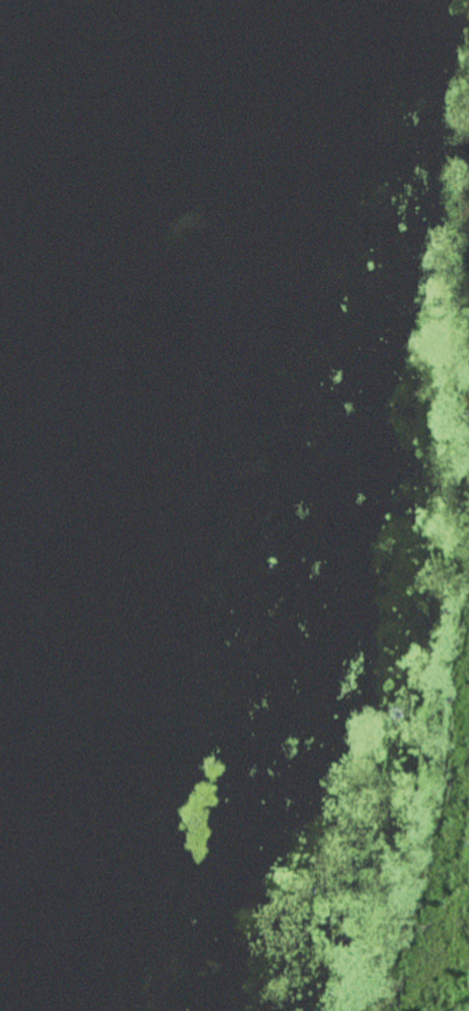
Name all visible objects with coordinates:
airport: (455, 163)
river: (136, 507)
airport: (437, 802)

